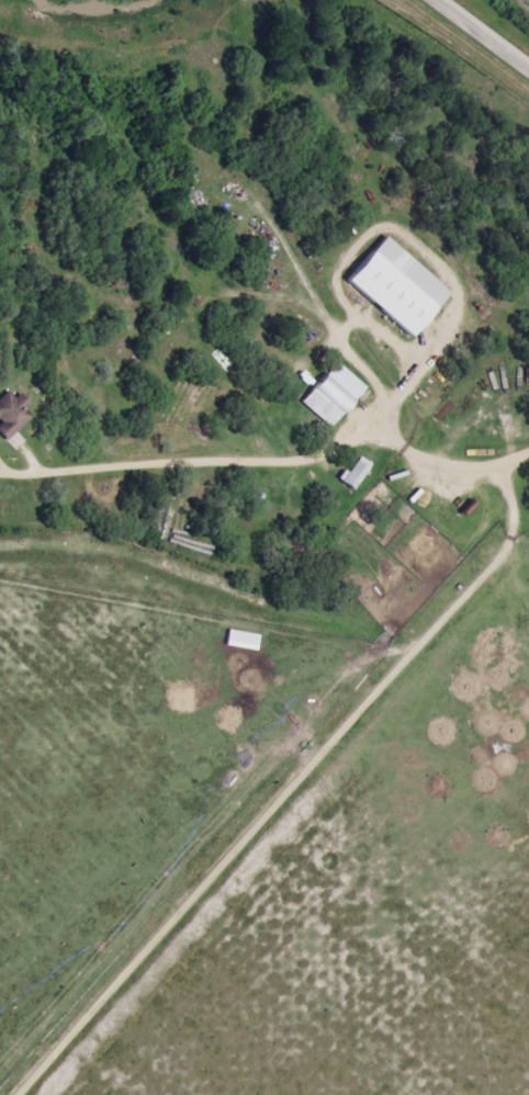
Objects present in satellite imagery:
river: (101, 10)
road: (487, 31)
building: (389, 285)
building: (325, 392)
road: (195, 461)
road: (452, 461)
building: (347, 471)
road: (296, 786)

